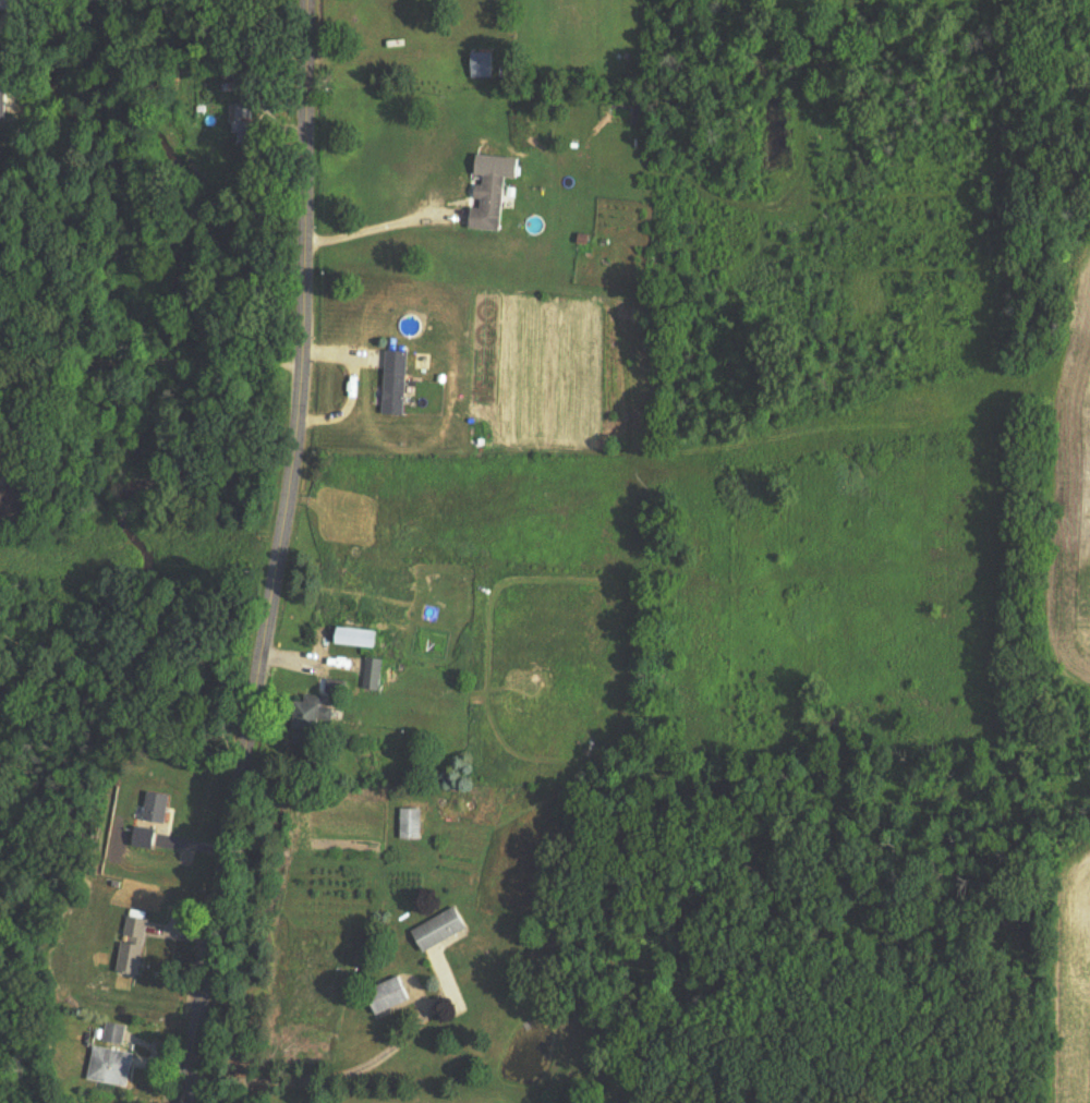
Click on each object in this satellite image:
building: (241, 125)
building: (491, 205)
road: (377, 229)
road: (155, 353)
building: (397, 383)
road: (284, 554)
building: (360, 637)
building: (374, 674)
building: (315, 712)
building: (157, 808)
building: (412, 820)
building: (143, 844)
building: (439, 929)
building: (132, 945)
building: (385, 996)
building: (110, 1067)
road: (322, 1077)

